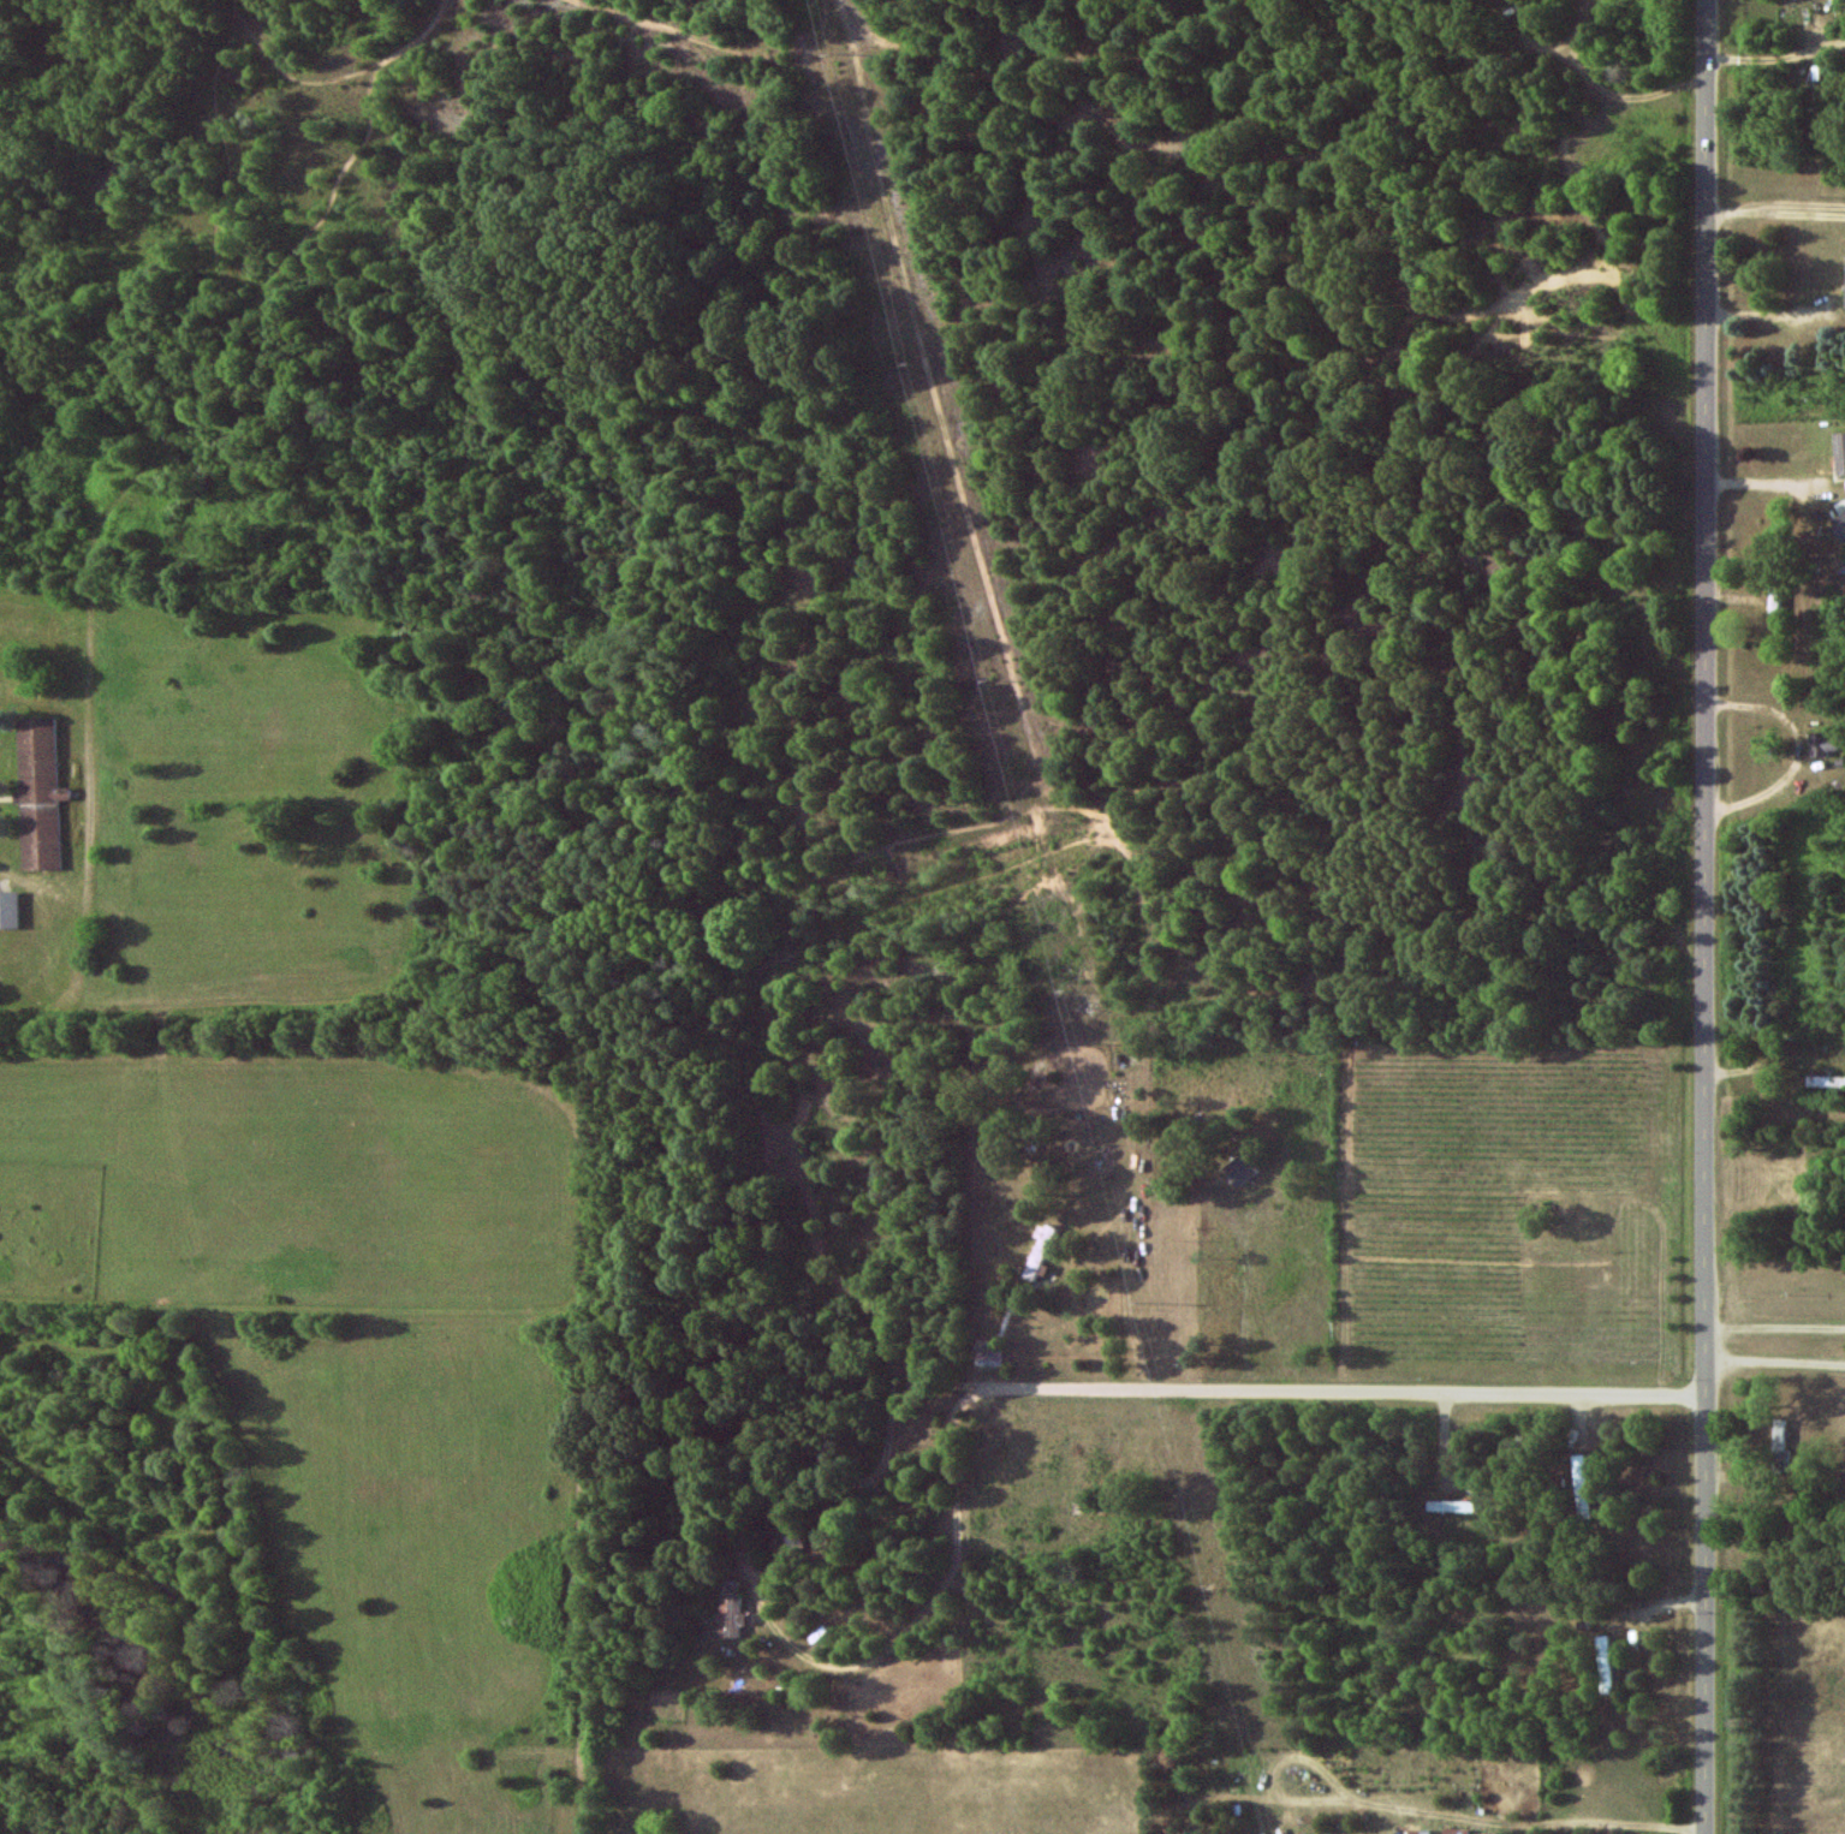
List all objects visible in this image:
road: (1775, 214)
building: (1839, 453)
building: (1840, 526)
building: (1775, 599)
building: (1823, 743)
building: (40, 794)
building: (8, 910)
road: (1708, 917)
building: (1827, 1082)
building: (1240, 1168)
building: (1038, 1252)
road: (1776, 1365)
road: (1343, 1394)
building: (1581, 1484)
building: (1452, 1506)
building: (731, 1613)
road: (773, 1630)
building: (1605, 1665)
road: (1423, 1799)
building: (1417, 1832)

